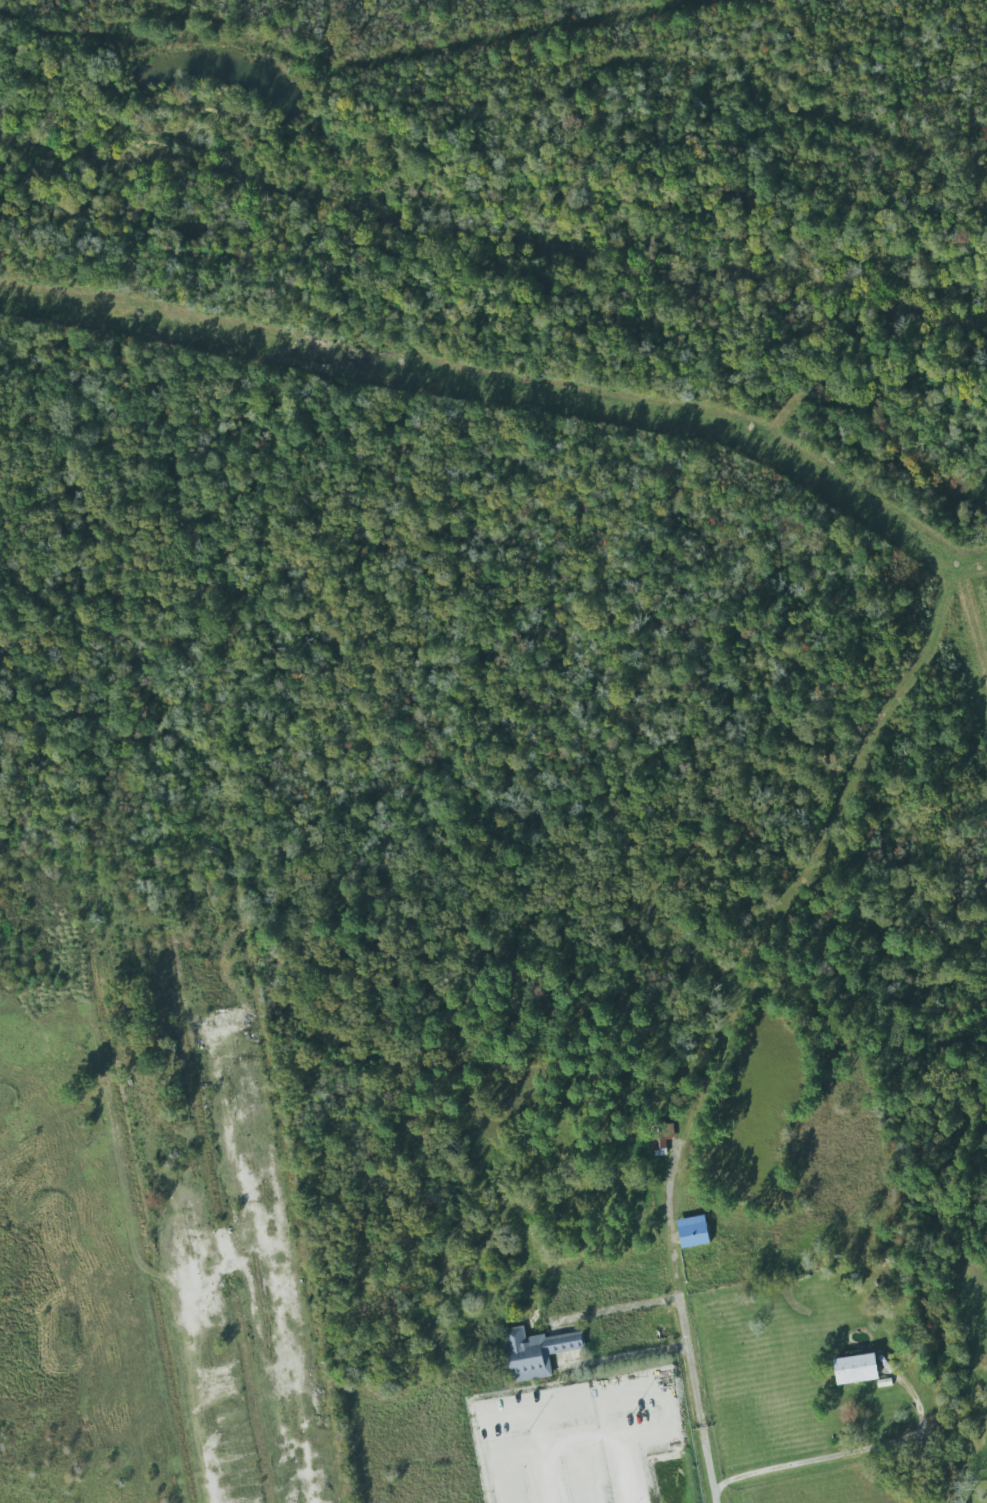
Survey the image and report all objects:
building: (692, 1231)
road: (583, 1346)
road: (698, 1348)
building: (534, 1352)
building: (855, 1369)
road: (797, 1464)
road: (542, 1480)

